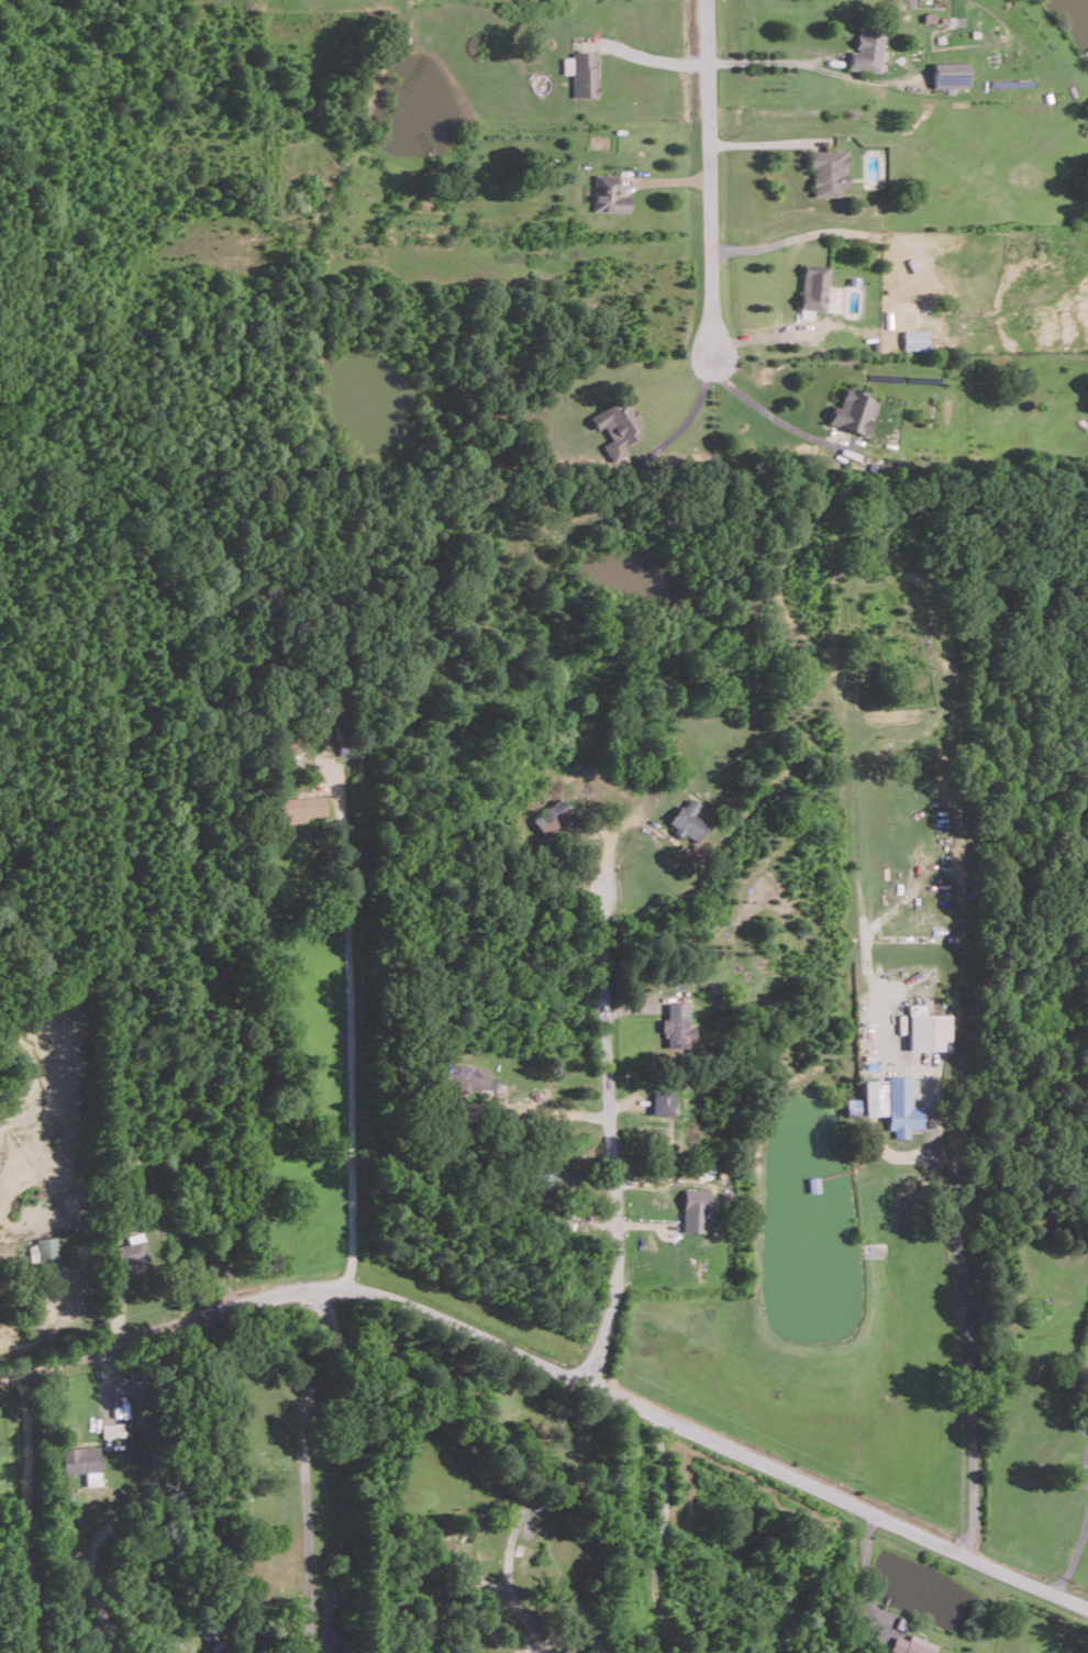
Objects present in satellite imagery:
building: (867, 48)
road: (654, 59)
road: (769, 59)
building: (584, 74)
building: (950, 74)
building: (829, 171)
road: (711, 177)
building: (608, 193)
building: (813, 289)
building: (914, 339)
road: (765, 406)
road: (693, 411)
building: (854, 411)
building: (617, 426)
building: (885, 466)
building: (901, 466)
building: (300, 808)
building: (551, 817)
building: (687, 820)
building: (677, 1027)
building: (928, 1029)
road: (351, 1051)
building: (468, 1077)
building: (867, 1099)
building: (663, 1100)
building: (902, 1107)
road: (612, 1134)
building: (544, 1190)
building: (696, 1209)
building: (45, 1250)
building: (132, 1251)
road: (974, 1334)
road: (134, 1335)
road: (259, 1358)
road: (682, 1424)
building: (114, 1429)
building: (82, 1462)
road: (303, 1466)
road: (27, 1511)
road: (519, 1516)
road: (658, 1538)
road: (1074, 1554)
building: (911, 1644)
building: (217, 1645)

